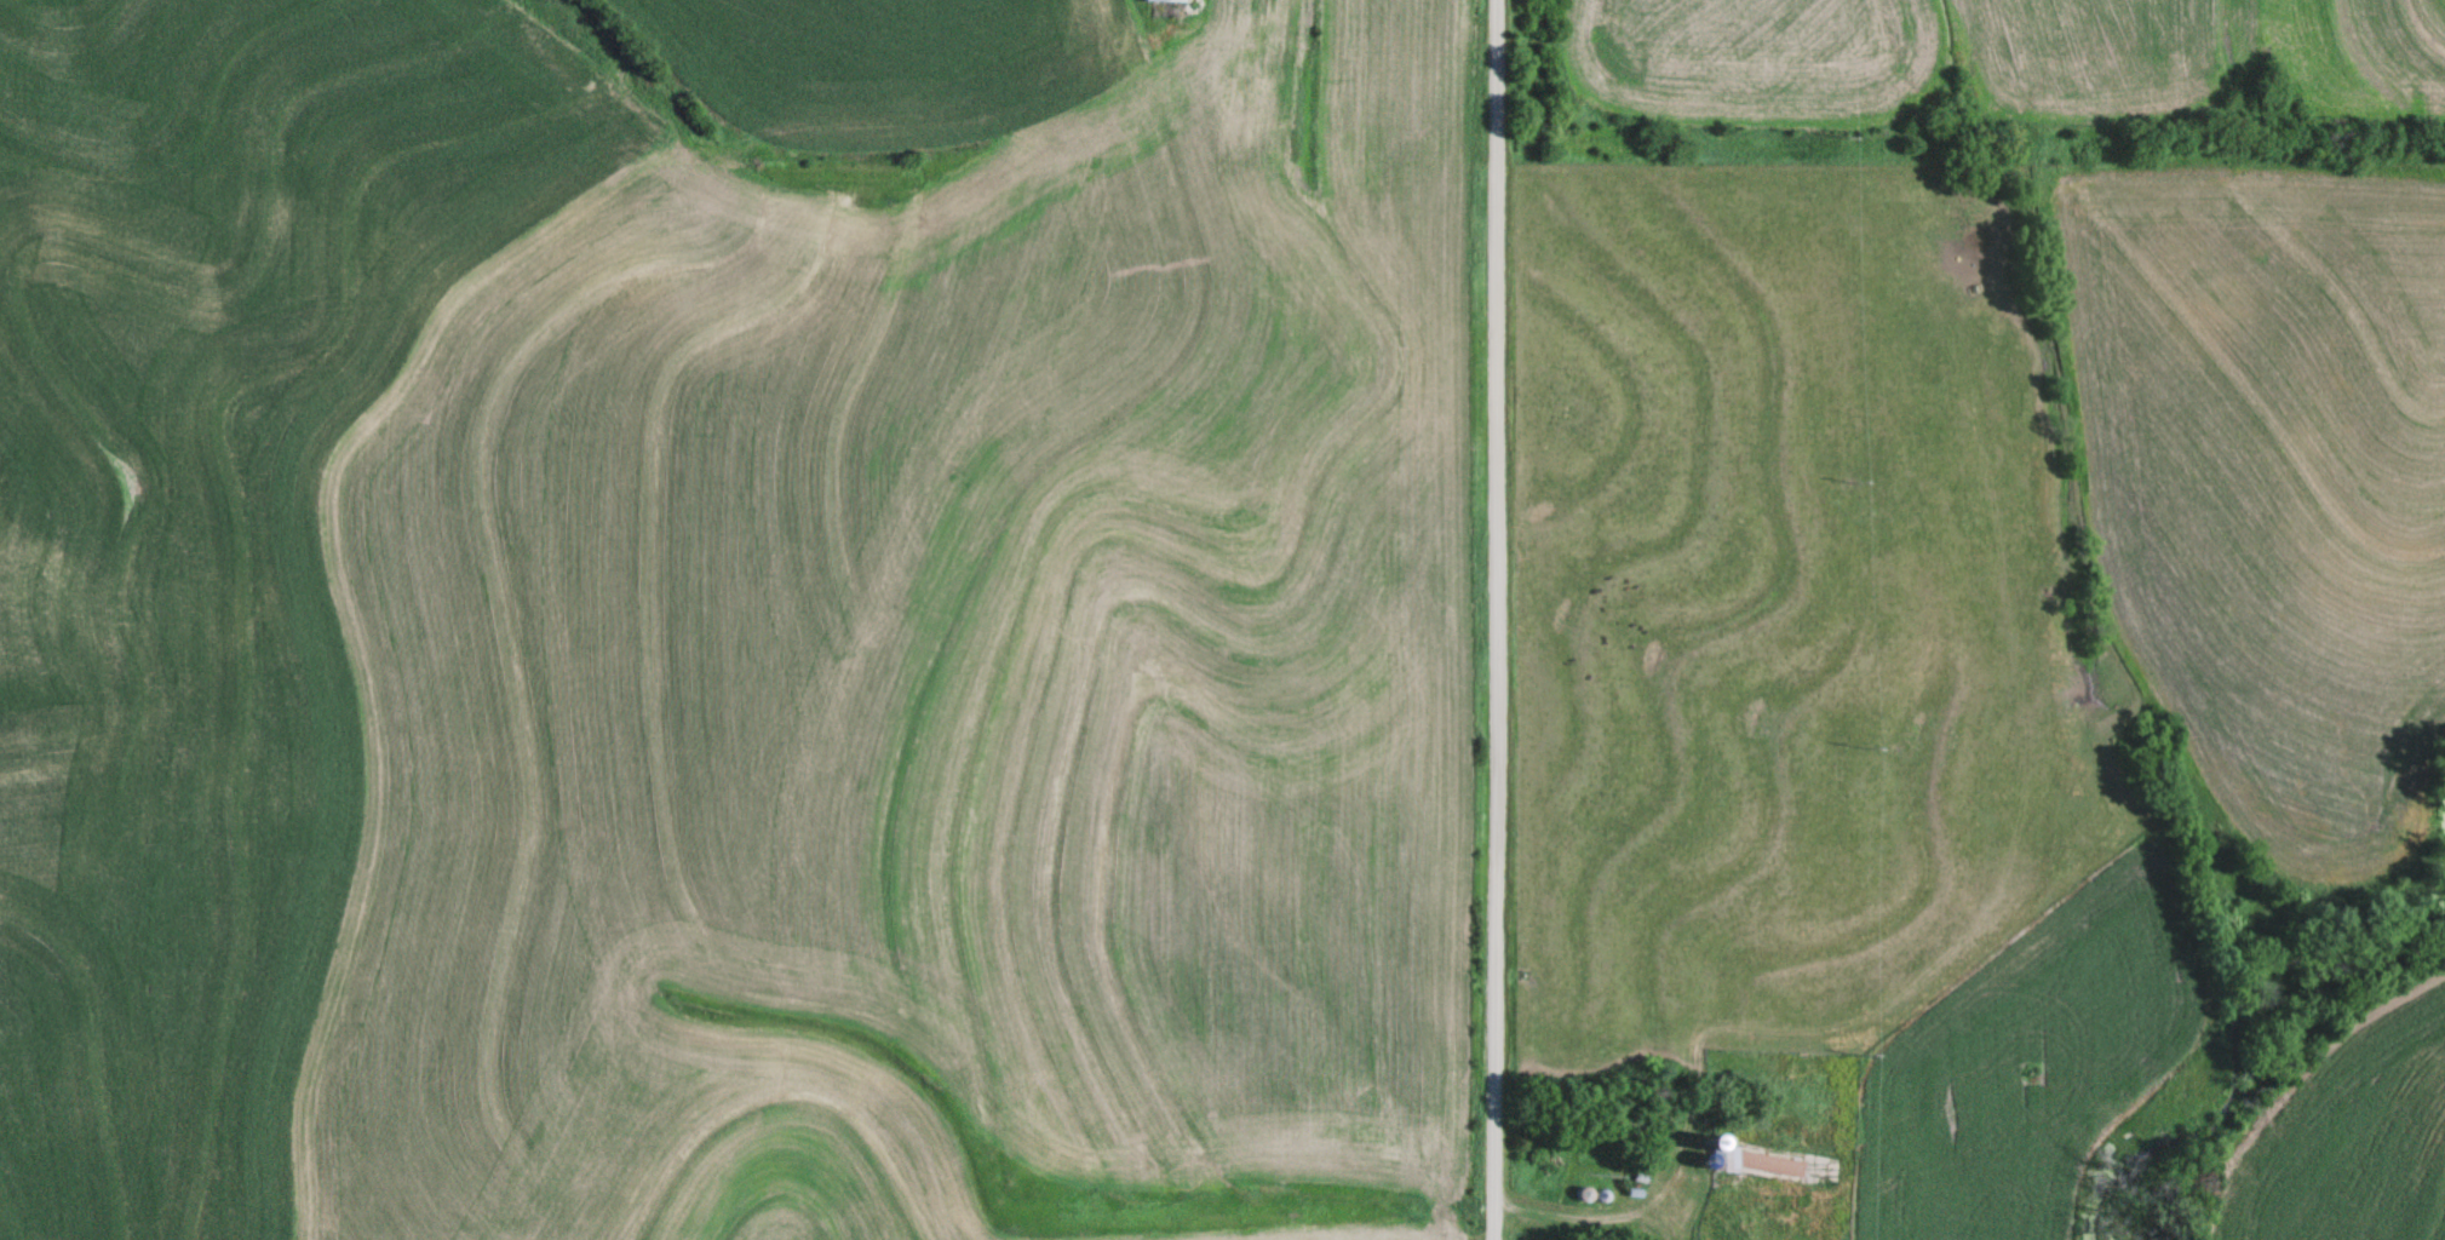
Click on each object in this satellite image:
building: (1167, 0)
road: (1496, 620)

